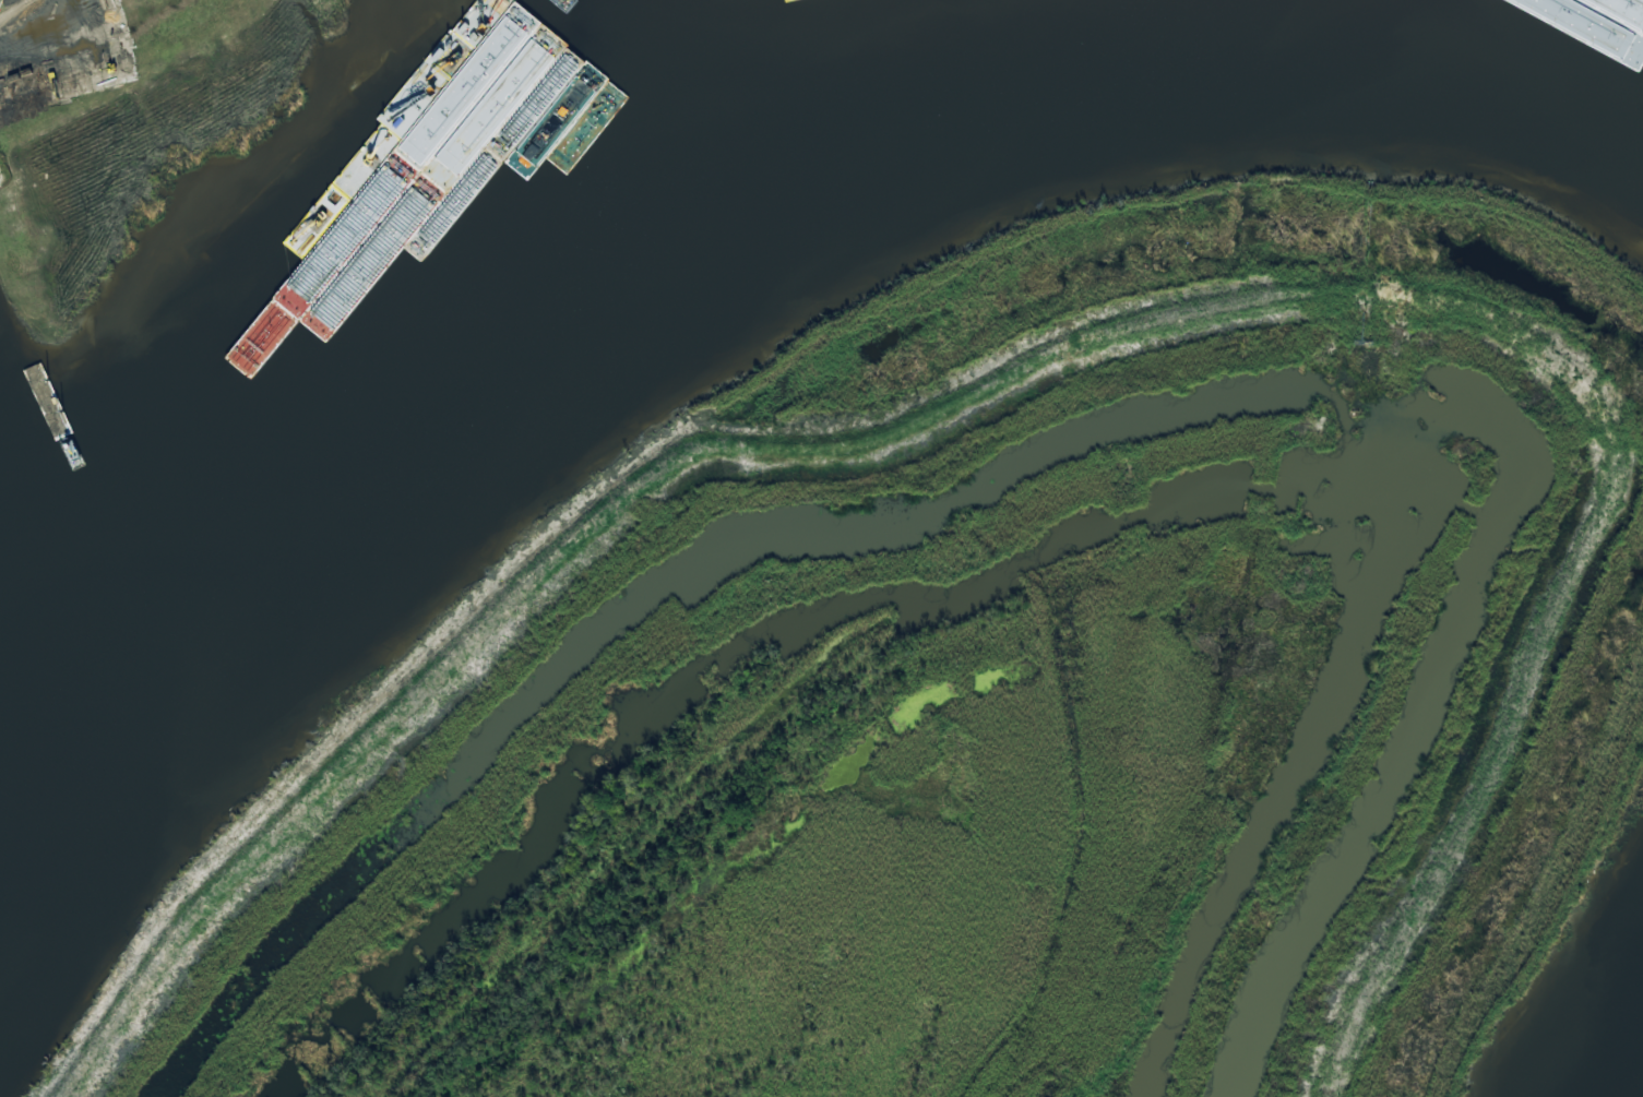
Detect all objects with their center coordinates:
road: (16, 10)

